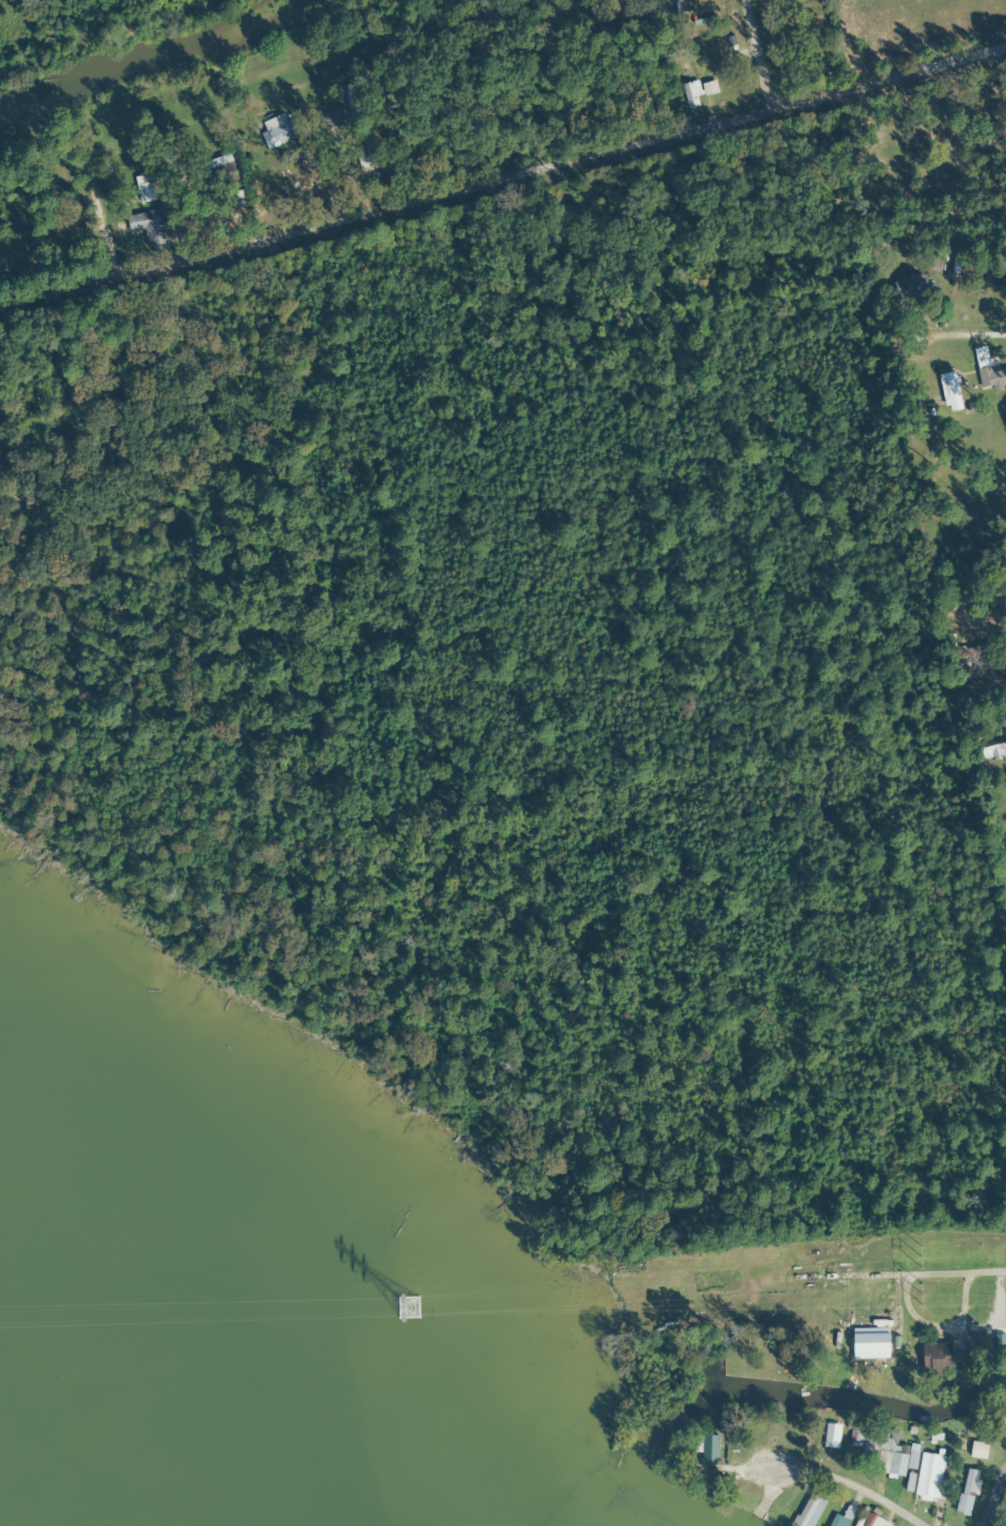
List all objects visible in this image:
building: (793, 0)
road: (759, 32)
building: (691, 53)
building: (357, 103)
building: (280, 133)
road: (502, 139)
building: (370, 163)
building: (144, 188)
building: (148, 231)
building: (908, 287)
road: (932, 308)
building: (949, 392)
building: (971, 653)
building: (990, 752)
road: (907, 1229)
power tower: (915, 1255)
power tower: (918, 1293)
power tower: (409, 1306)
building: (890, 1341)
building: (934, 1359)
building: (1000, 1420)
building: (706, 1447)
building: (977, 1450)
building: (878, 1451)
building: (928, 1476)
building: (966, 1493)
building: (805, 1511)
building: (841, 1518)
building: (873, 1521)
road: (769, 1524)

